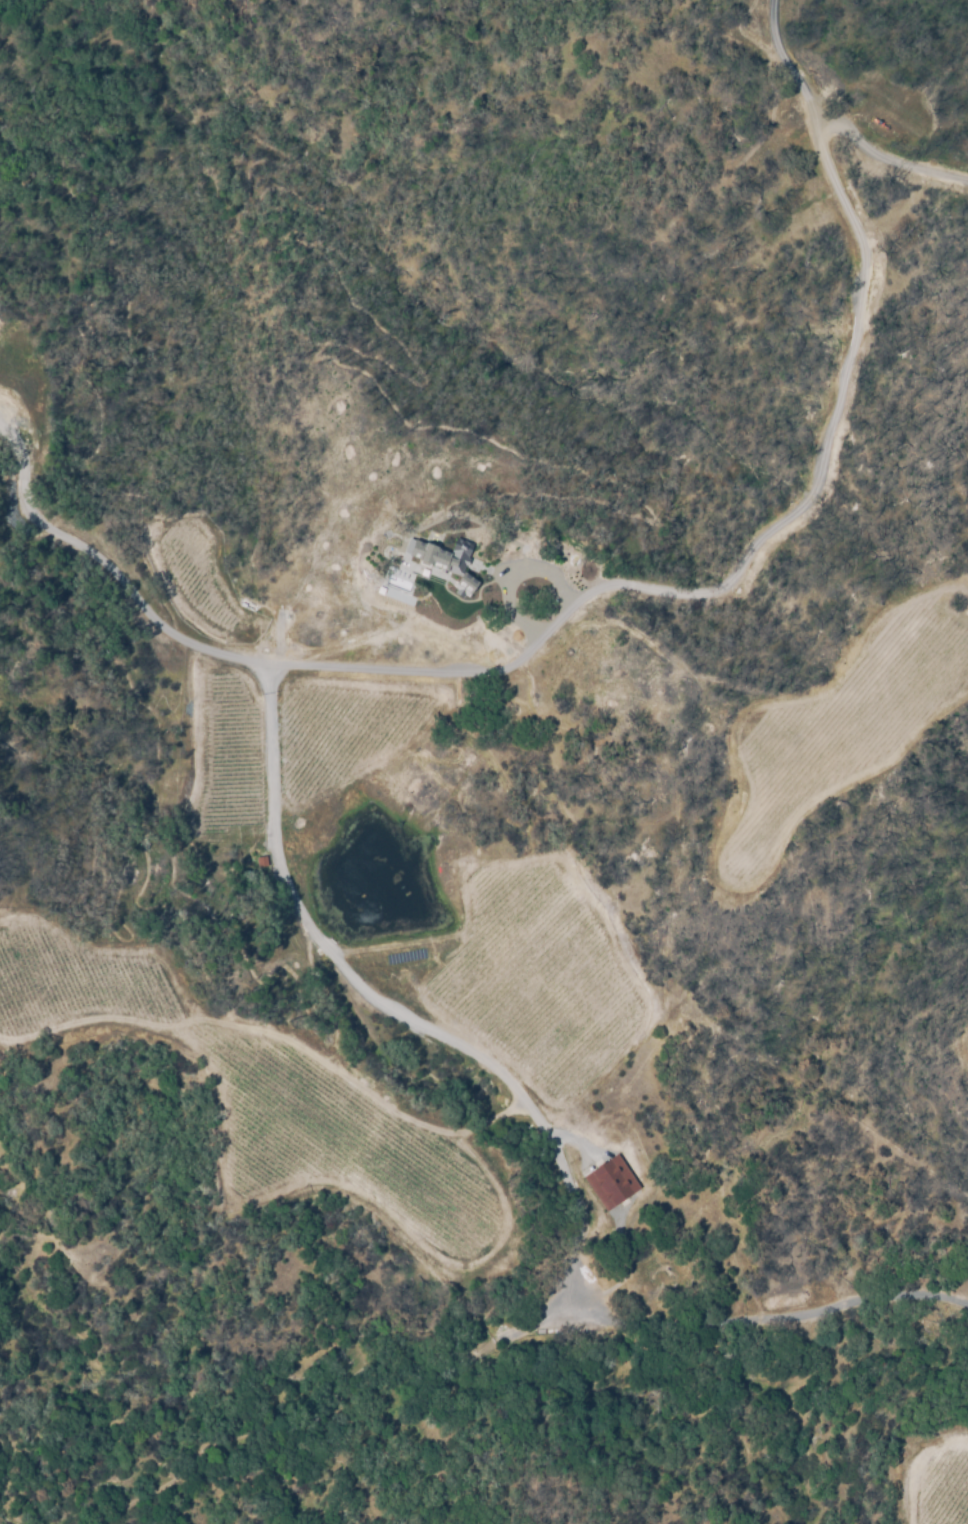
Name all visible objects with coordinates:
building: (444, 562)
building: (439, 576)
road: (238, 654)
road: (335, 947)
building: (609, 1182)

